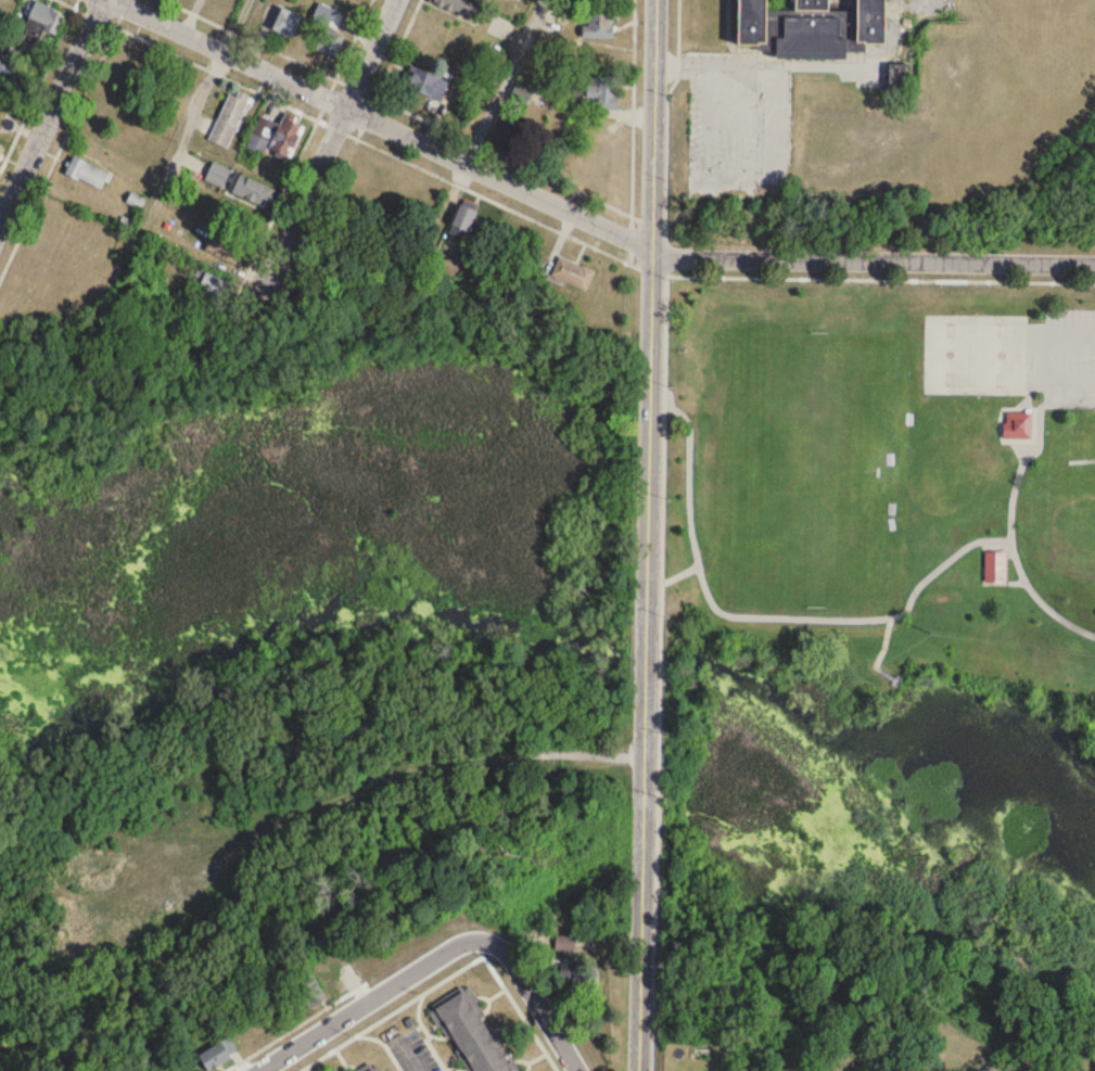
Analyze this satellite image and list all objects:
building: (480, 0)
building: (459, 8)
building: (43, 18)
building: (285, 23)
building: (599, 24)
road: (235, 25)
building: (810, 26)
building: (329, 42)
road: (270, 48)
road: (397, 48)
road: (760, 63)
road: (501, 81)
building: (425, 84)
building: (602, 92)
building: (521, 93)
road: (50, 112)
building: (228, 119)
building: (275, 138)
road: (328, 145)
building: (1, 151)
building: (87, 174)
building: (252, 193)
road: (600, 201)
road: (582, 222)
building: (461, 224)
building: (225, 250)
building: (572, 275)
road: (881, 280)
building: (211, 284)
park: (950, 355)
park: (1002, 356)
parking lot: (1069, 361)
road: (1027, 399)
road: (1043, 407)
road: (1068, 409)
building: (1018, 425)
park: (881, 487)
road: (649, 535)
road: (1010, 535)
building: (995, 565)
road: (682, 576)
road: (762, 616)
park: (303, 641)
road: (881, 654)
road: (660, 673)
building: (564, 945)
building: (308, 990)
road: (379, 999)
road: (545, 1000)
building: (471, 1034)
building: (217, 1054)
road: (409, 1057)
road: (991, 1066)
building: (377, 1069)

